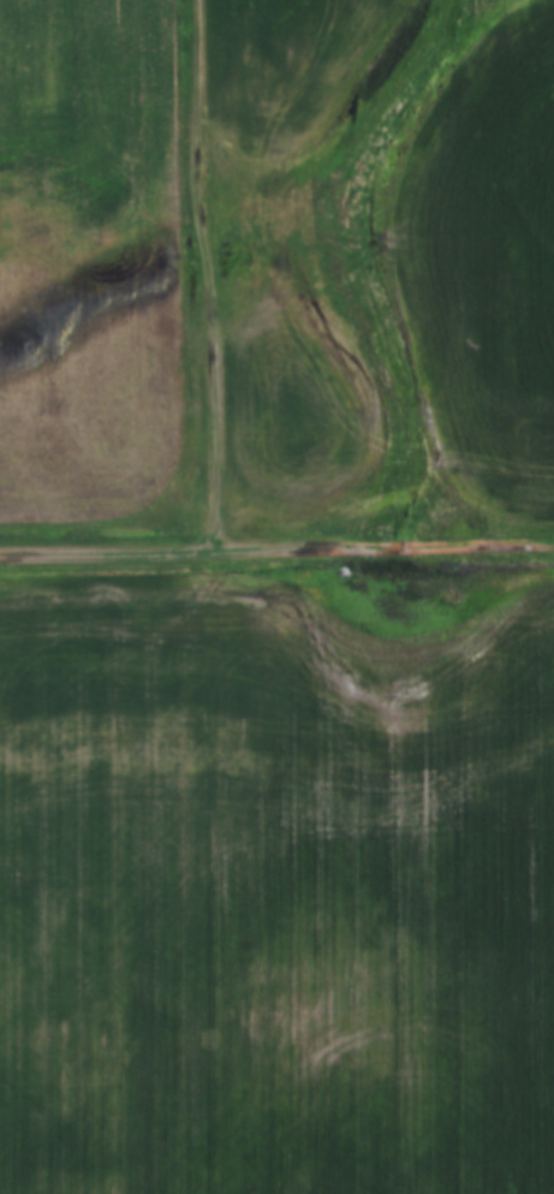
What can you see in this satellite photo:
road: (210, 278)
road: (276, 552)

